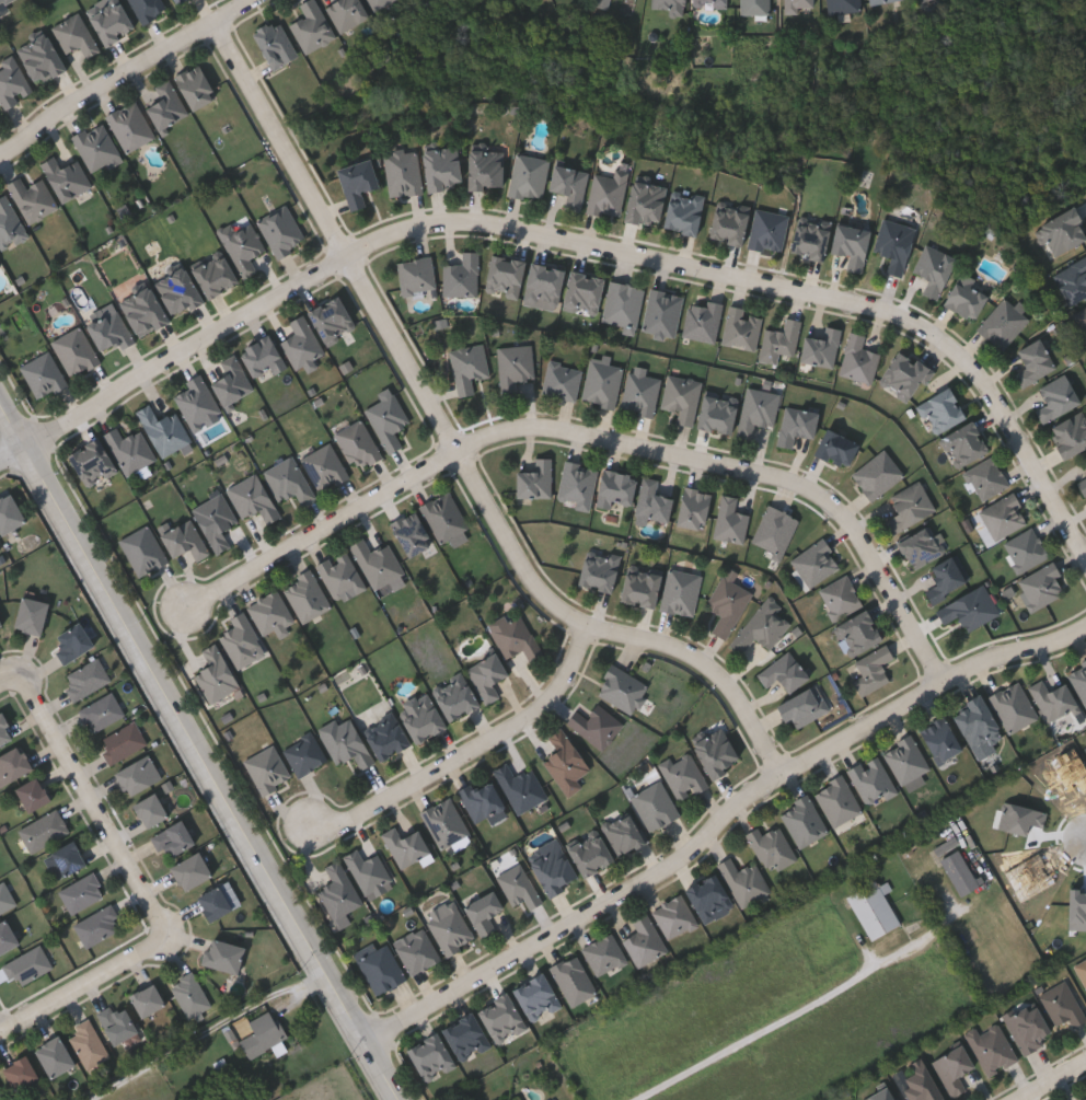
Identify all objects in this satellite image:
building: (181, 1)
building: (879, 1)
building: (925, 1)
building: (3, 2)
building: (379, 2)
building: (709, 2)
building: (671, 5)
building: (799, 5)
building: (844, 5)
building: (756, 7)
building: (150, 8)
building: (348, 12)
building: (112, 20)
building: (313, 26)
building: (77, 35)
building: (277, 44)
building: (43, 57)
road: (122, 72)
building: (13, 82)
building: (196, 85)
building: (169, 105)
building: (131, 125)
building: (97, 147)
building: (444, 167)
building: (488, 169)
building: (405, 172)
building: (530, 175)
building: (67, 176)
building: (359, 182)
building: (570, 185)
building: (609, 194)
building: (35, 198)
building: (646, 202)
building: (684, 215)
building: (10, 223)
building: (729, 224)
building: (282, 230)
building: (770, 230)
building: (1064, 230)
building: (811, 239)
road: (578, 242)
building: (853, 244)
building: (896, 244)
building: (244, 246)
building: (0, 265)
building: (0, 268)
building: (935, 269)
building: (216, 275)
building: (418, 275)
building: (464, 276)
building: (507, 276)
building: (1073, 280)
building: (546, 283)
building: (180, 290)
building: (586, 292)
building: (968, 297)
building: (625, 303)
building: (145, 311)
building: (665, 312)
building: (1082, 317)
building: (332, 320)
building: (705, 321)
building: (1005, 323)
building: (744, 328)
building: (112, 332)
building: (783, 340)
building: (303, 343)
building: (823, 348)
building: (78, 351)
building: (264, 356)
building: (860, 359)
building: (1035, 361)
building: (470, 367)
building: (516, 367)
building: (44, 374)
building: (905, 375)
building: (564, 380)
building: (233, 381)
building: (604, 383)
building: (644, 391)
building: (684, 397)
building: (1059, 397)
building: (199, 402)
building: (945, 408)
building: (760, 410)
building: (718, 414)
building: (390, 418)
building: (798, 426)
building: (165, 430)
building: (1071, 433)
road: (596, 437)
building: (966, 443)
road: (457, 444)
building: (360, 445)
building: (837, 448)
building: (131, 450)
building: (1085, 459)
building: (92, 462)
building: (1084, 463)
building: (326, 467)
building: (879, 475)
building: (989, 478)
building: (536, 479)
building: (290, 480)
building: (579, 484)
building: (1083, 485)
building: (616, 488)
building: (254, 498)
building: (654, 502)
building: (911, 507)
building: (695, 508)
building: (10, 511)
building: (1005, 517)
building: (447, 518)
building: (217, 521)
building: (732, 521)
building: (776, 530)
building: (413, 534)
building: (186, 540)
building: (920, 547)
building: (1027, 549)
building: (145, 551)
building: (817, 561)
building: (379, 563)
building: (600, 570)
building: (343, 576)
building: (947, 580)
building: (642, 586)
building: (1044, 587)
building: (683, 592)
building: (308, 595)
building: (841, 597)
building: (729, 605)
building: (971, 609)
building: (273, 614)
building: (32, 617)
building: (764, 626)
building: (1, 627)
building: (859, 633)
building: (517, 636)
building: (244, 640)
building: (72, 644)
building: (874, 670)
building: (785, 672)
building: (217, 674)
building: (488, 676)
building: (88, 680)
building: (1079, 680)
road: (10, 681)
building: (623, 688)
building: (457, 697)
building: (1053, 698)
building: (805, 706)
building: (1014, 706)
building: (102, 714)
building: (423, 718)
building: (978, 721)
building: (598, 726)
building: (4, 732)
building: (388, 737)
building: (941, 739)
building: (123, 743)
building: (348, 744)
road: (472, 749)
road: (200, 751)
building: (717, 752)
building: (307, 754)
building: (566, 760)
building: (908, 760)
building: (13, 766)
building: (269, 769)
building: (684, 774)
building: (138, 775)
building: (874, 780)
building: (522, 788)
building: (32, 796)
building: (483, 800)
building: (840, 800)
building: (657, 806)
road: (94, 807)
building: (150, 811)
building: (805, 820)
road: (720, 821)
building: (447, 822)
building: (44, 832)
building: (624, 834)
building: (173, 838)
building: (407, 845)
building: (774, 847)
building: (591, 853)
building: (65, 861)
building: (555, 870)
building: (190, 871)
building: (370, 871)
building: (960, 876)
building: (746, 881)
building: (520, 887)
building: (340, 893)
building: (83, 894)
building: (710, 898)
building: (7, 899)
building: (213, 904)
building: (485, 912)
building: (875, 914)
building: (675, 916)
building: (99, 927)
building: (452, 929)
building: (7, 938)
building: (646, 940)
building: (418, 950)
building: (223, 954)
building: (606, 954)
building: (30, 968)
building: (383, 969)
building: (1082, 971)
building: (575, 980)
road: (84, 985)
building: (193, 995)
building: (539, 997)
building: (148, 998)
building: (1062, 1004)
road: (794, 1012)
building: (502, 1018)
building: (118, 1021)
building: (1026, 1027)
road: (208, 1031)
road: (0, 1032)
building: (263, 1032)
building: (466, 1037)
building: (90, 1042)
building: (991, 1049)
building: (55, 1054)
building: (431, 1056)
building: (952, 1068)
building: (22, 1070)
road: (1049, 1078)
building: (920, 1082)
building: (2, 1093)
building: (881, 1095)
building: (517, 1097)
building: (1085, 1099)

